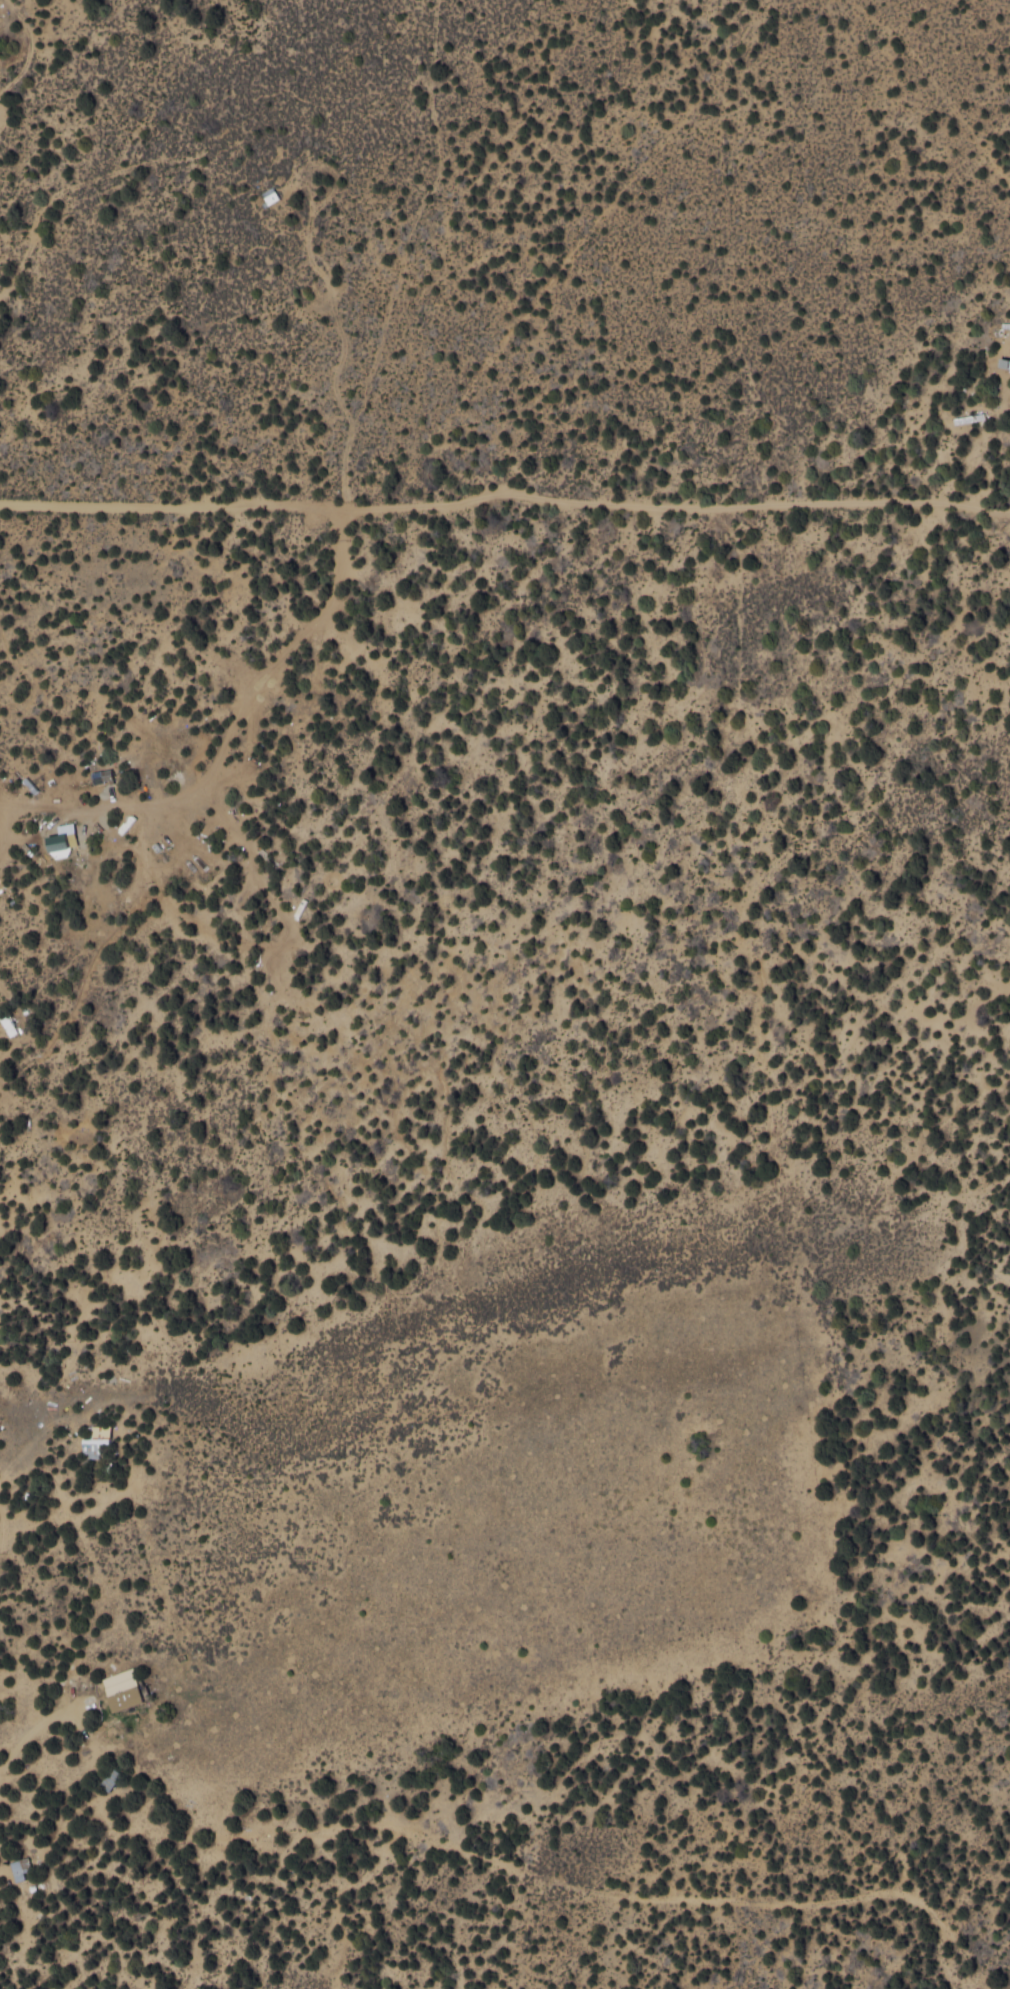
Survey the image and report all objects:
road: (955, 58)
building: (273, 195)
road: (748, 234)
building: (971, 417)
road: (505, 527)
road: (409, 722)
building: (105, 775)
building: (66, 840)
building: (10, 1020)
road: (120, 1412)
building: (100, 1441)
building: (129, 1690)
road: (520, 1819)
building: (16, 1870)
road: (775, 1927)

